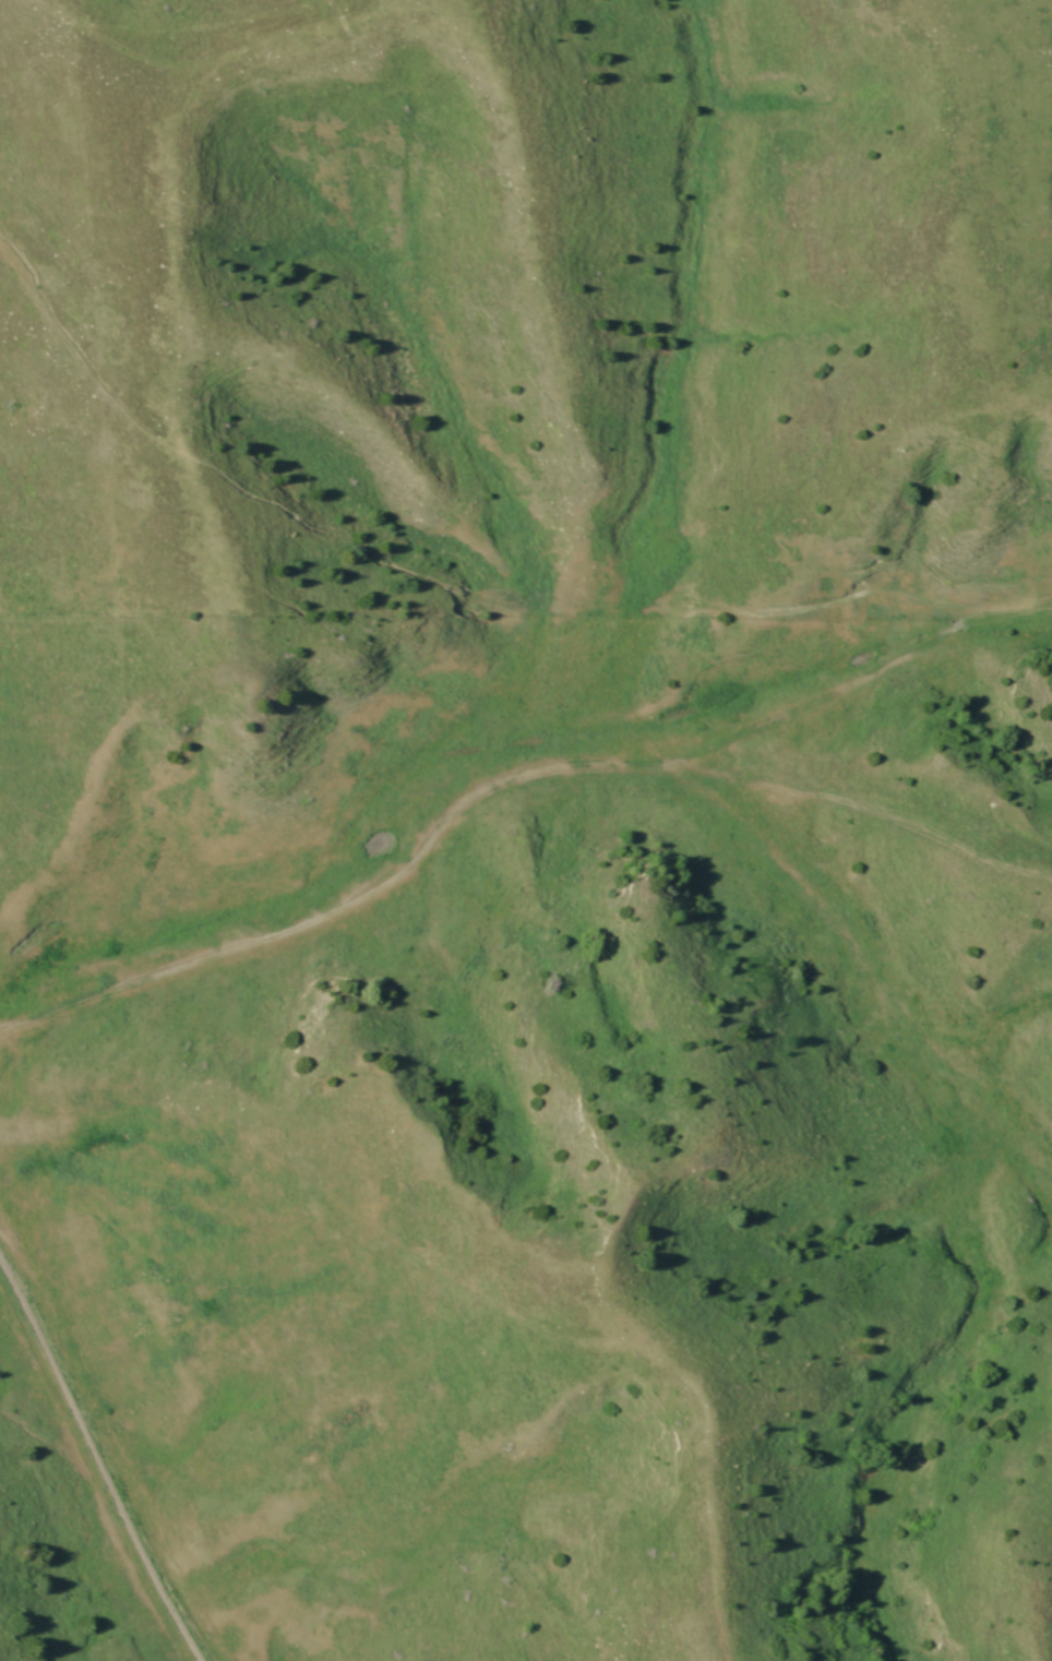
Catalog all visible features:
road: (93, 1469)

